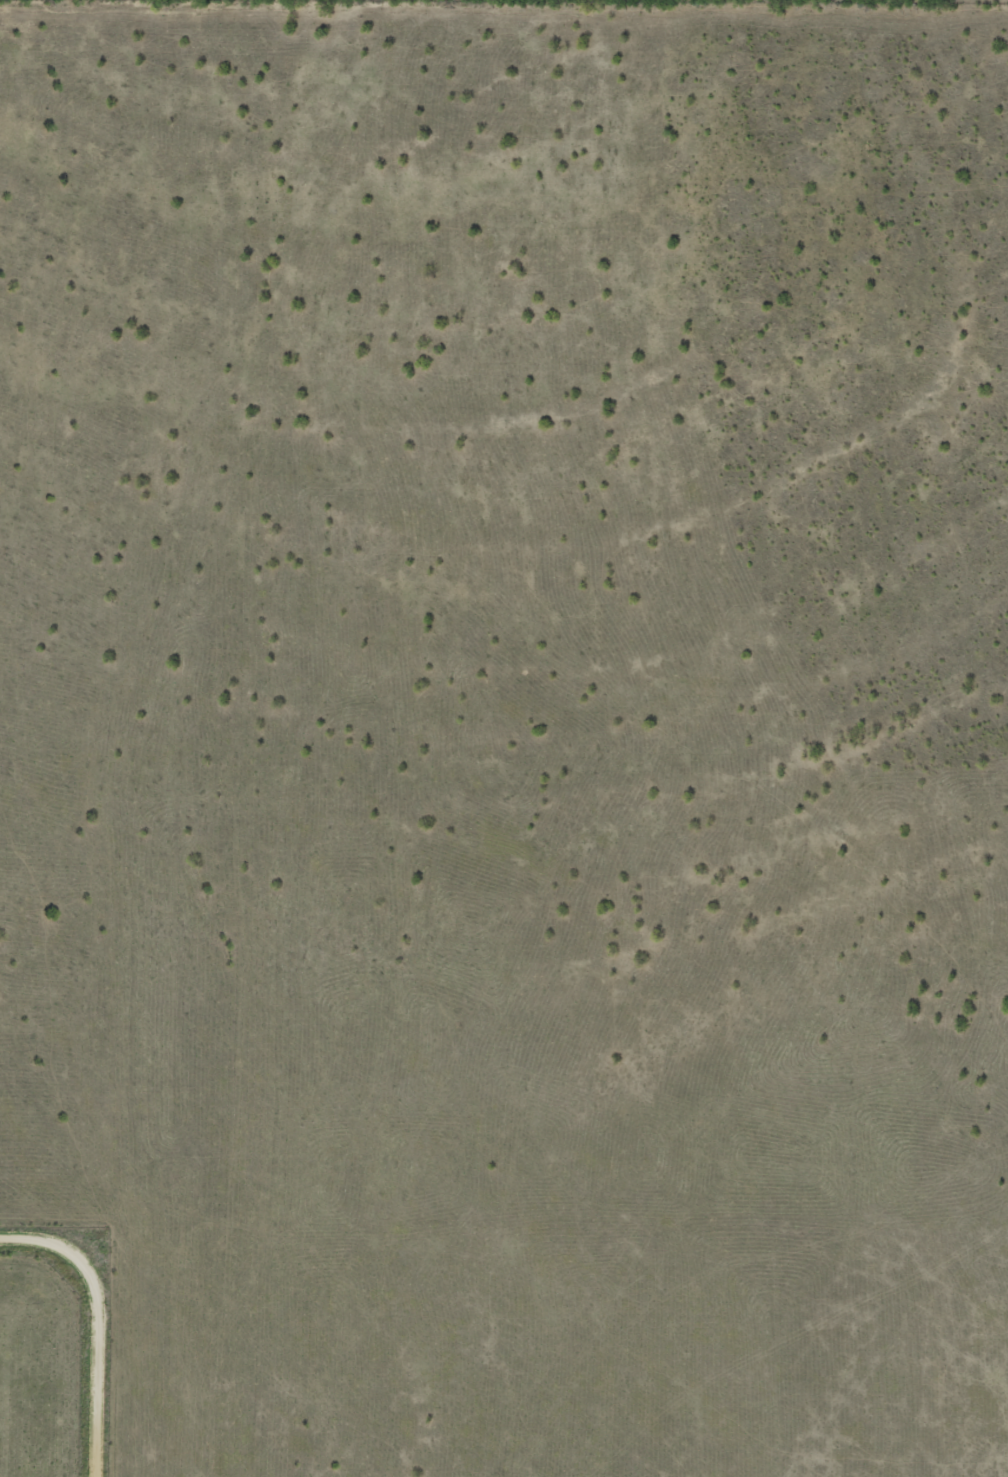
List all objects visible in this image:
road: (110, 1303)

